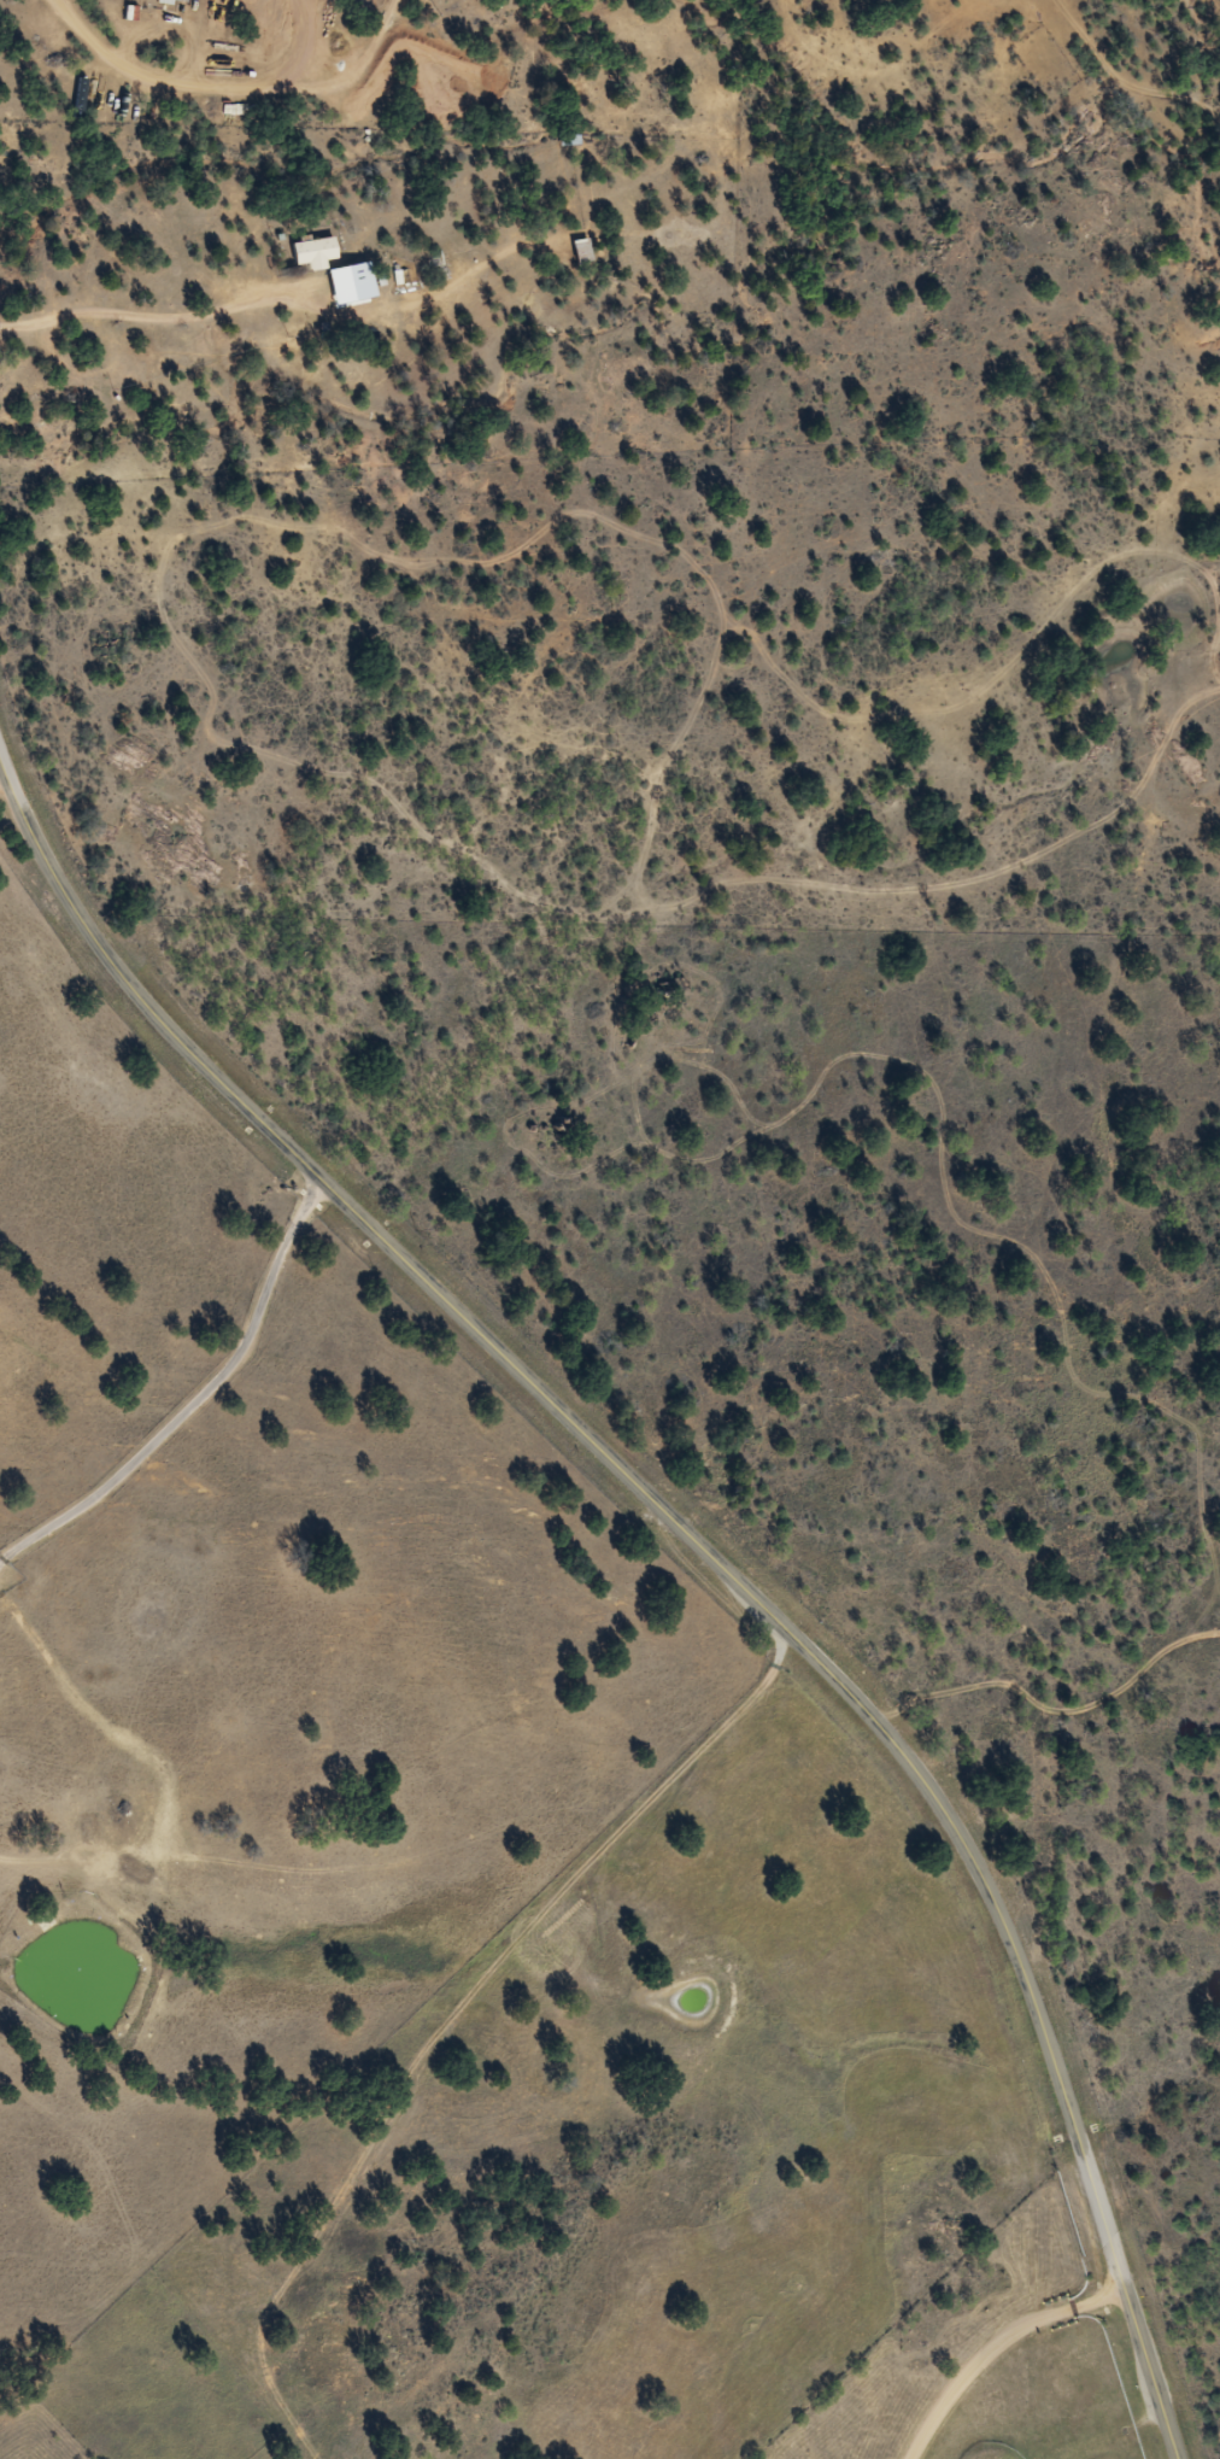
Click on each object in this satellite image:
building: (183, 0)
building: (166, 1)
road: (1108, 75)
building: (569, 141)
building: (580, 252)
building: (311, 253)
building: (345, 282)
road: (694, 1544)
road: (1072, 2371)

